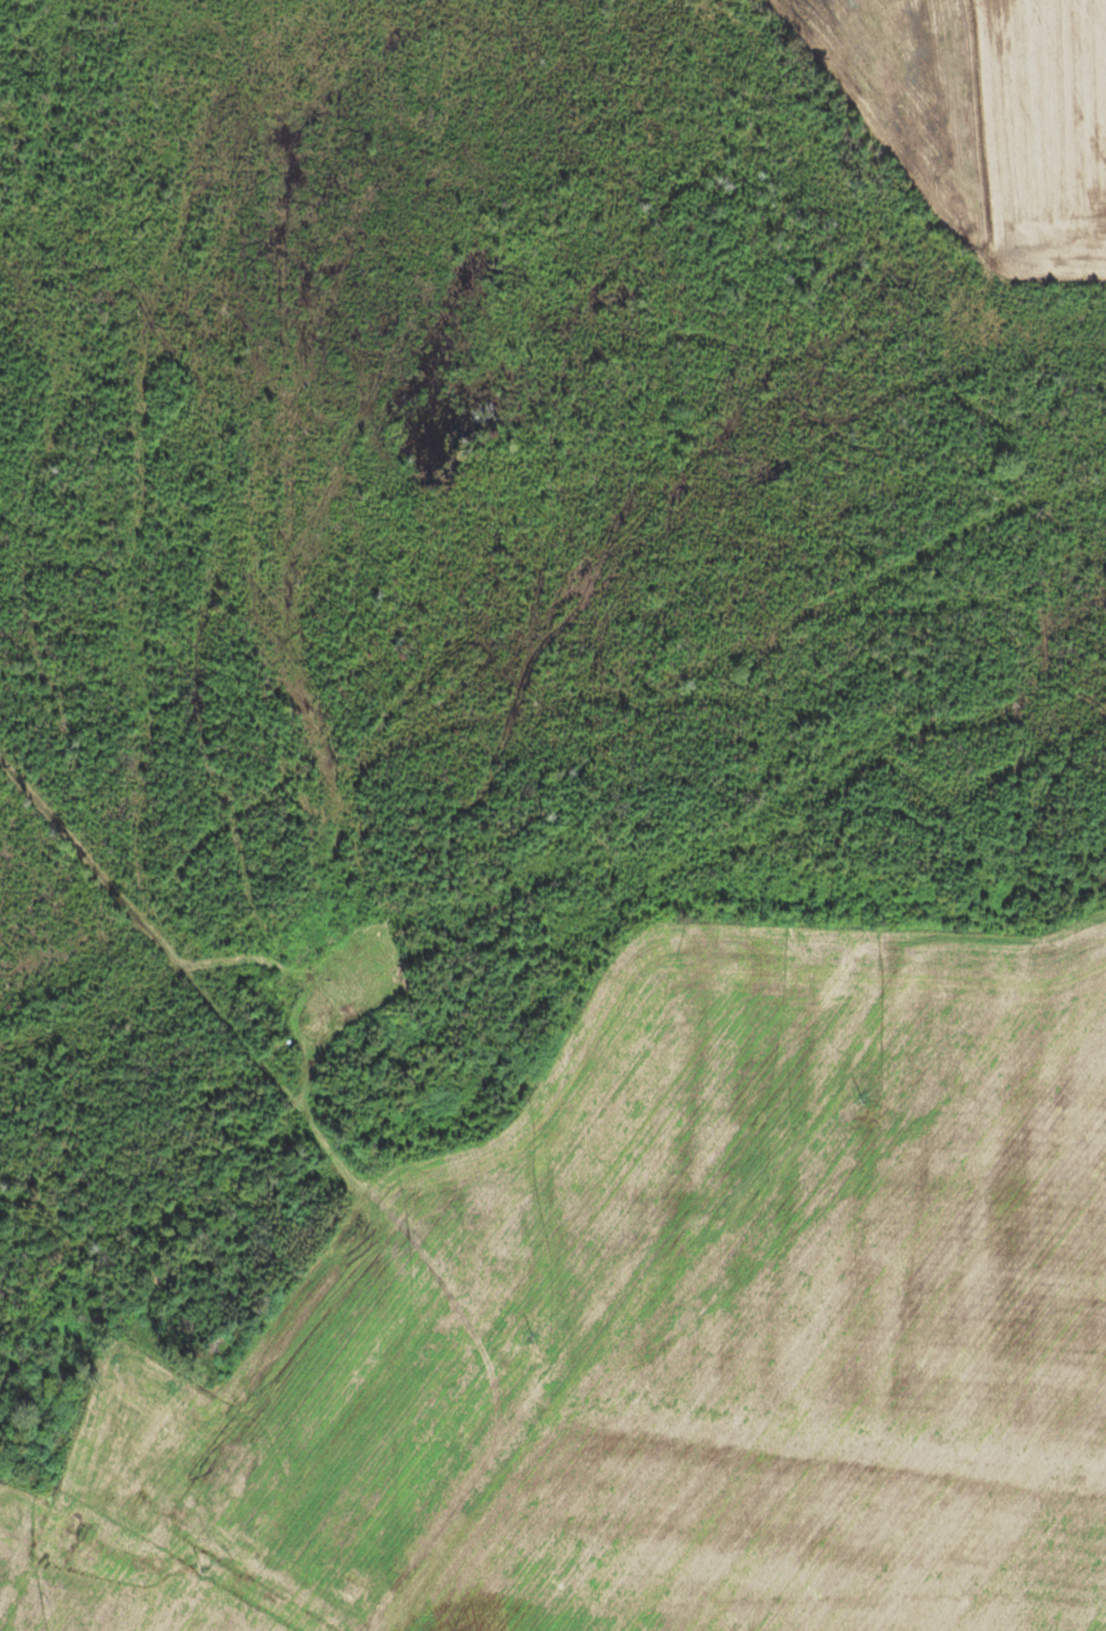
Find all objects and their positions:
building: (85, 1420)
road: (707, 1437)
building: (131, 1499)
building: (158, 1524)

